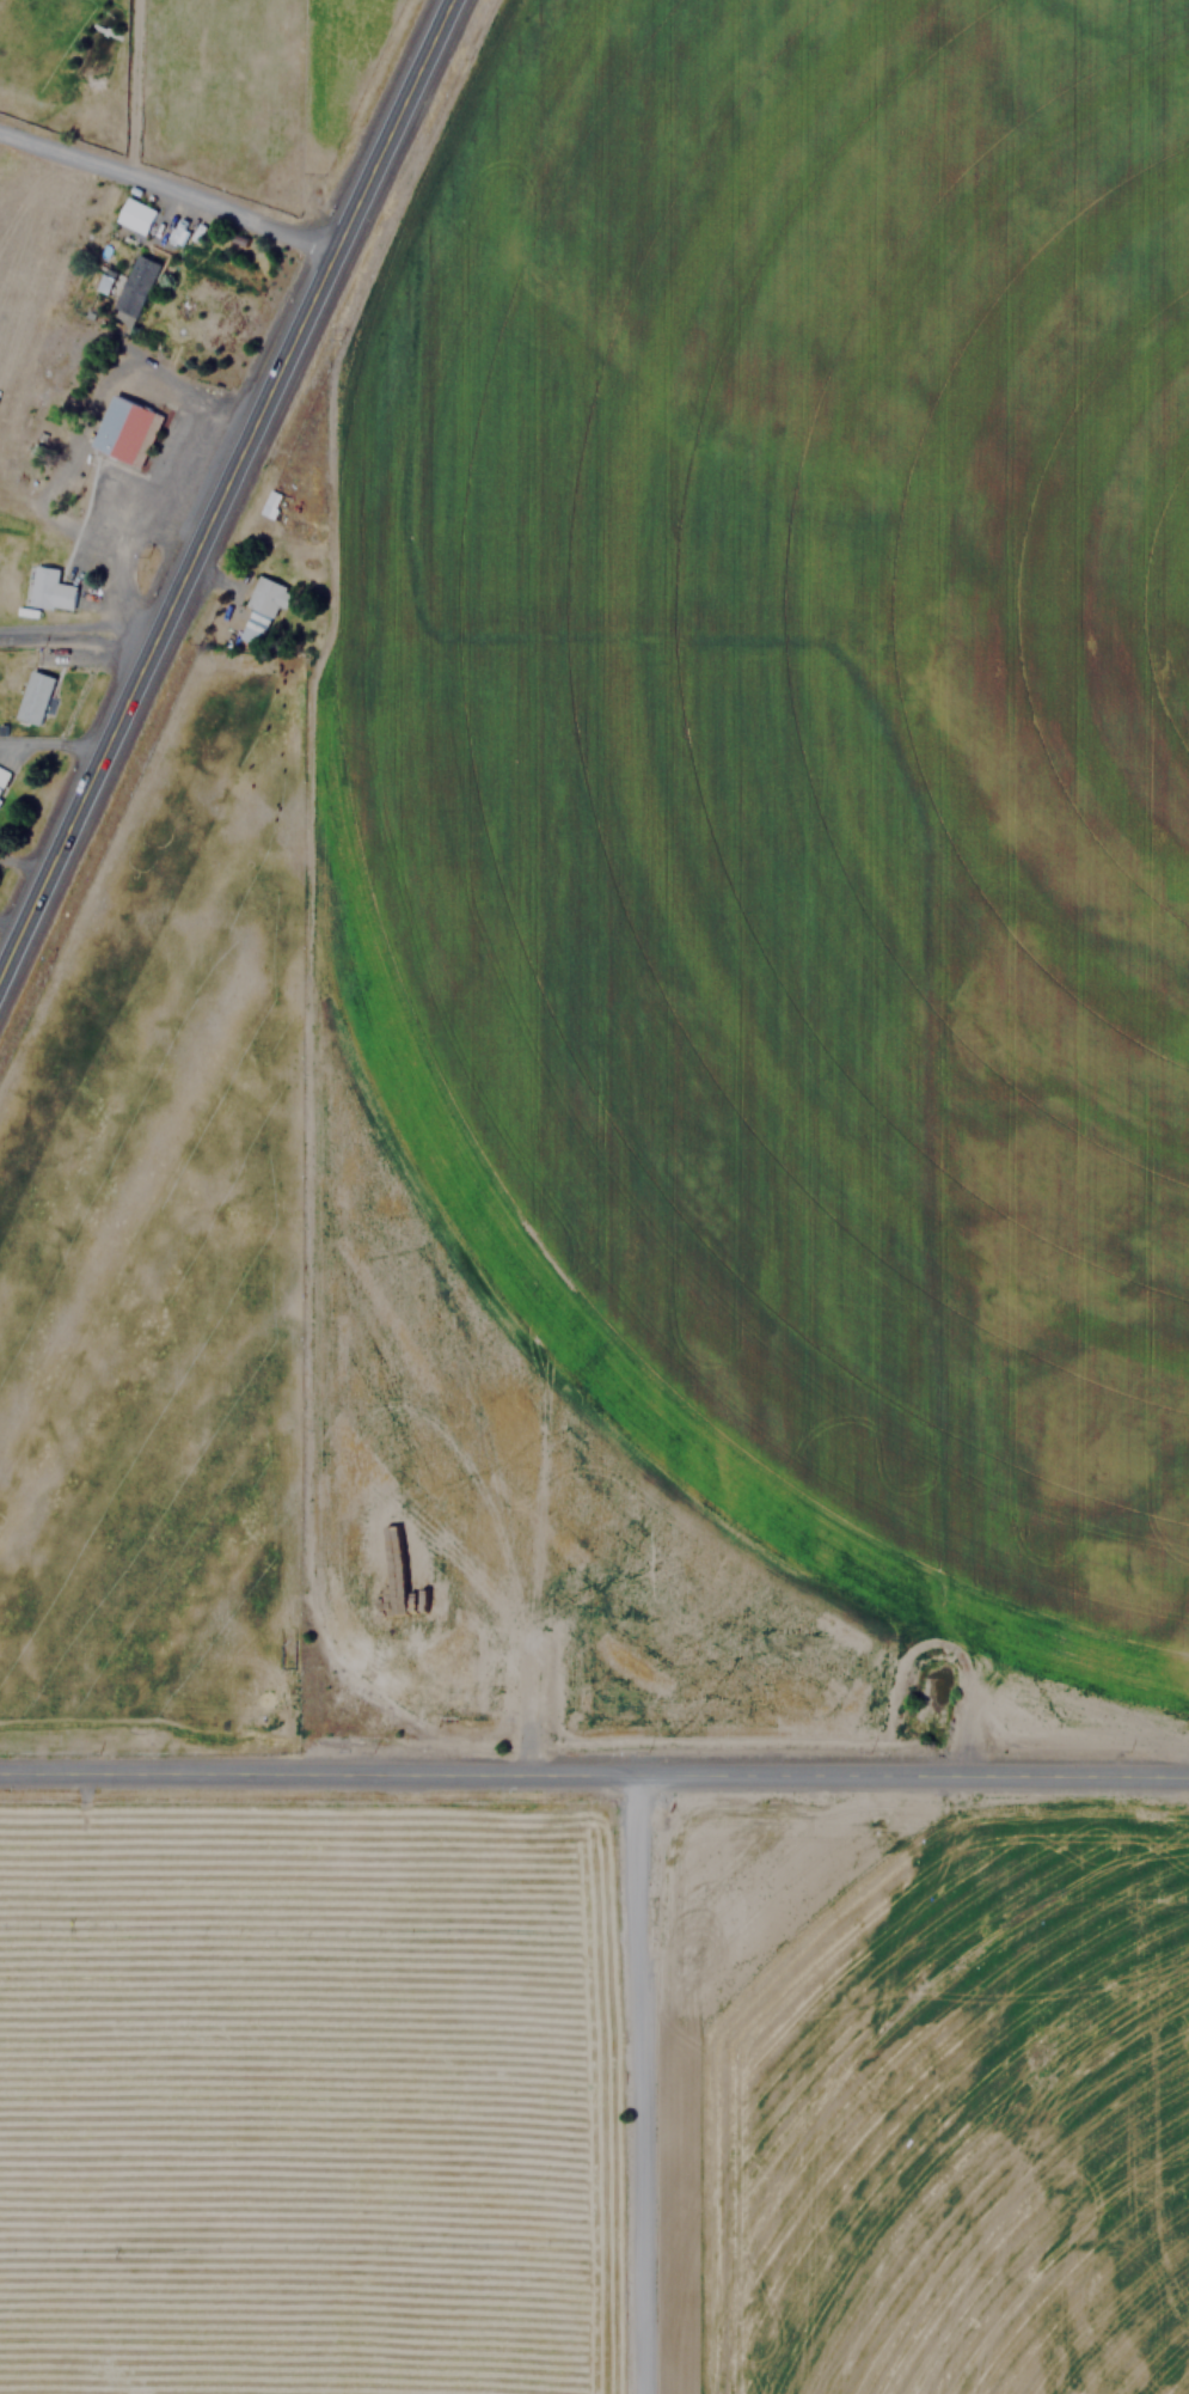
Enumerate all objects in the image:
road: (133, 92)
road: (167, 191)
building: (135, 214)
building: (134, 287)
road: (166, 378)
building: (124, 430)
road: (223, 485)
building: (269, 503)
building: (49, 590)
building: (263, 605)
road: (79, 624)
road: (74, 641)
building: (33, 696)
crop: (811, 706)
road: (53, 741)
building: (2, 774)
road: (25, 860)
road: (594, 1772)
crop: (594, 2100)

